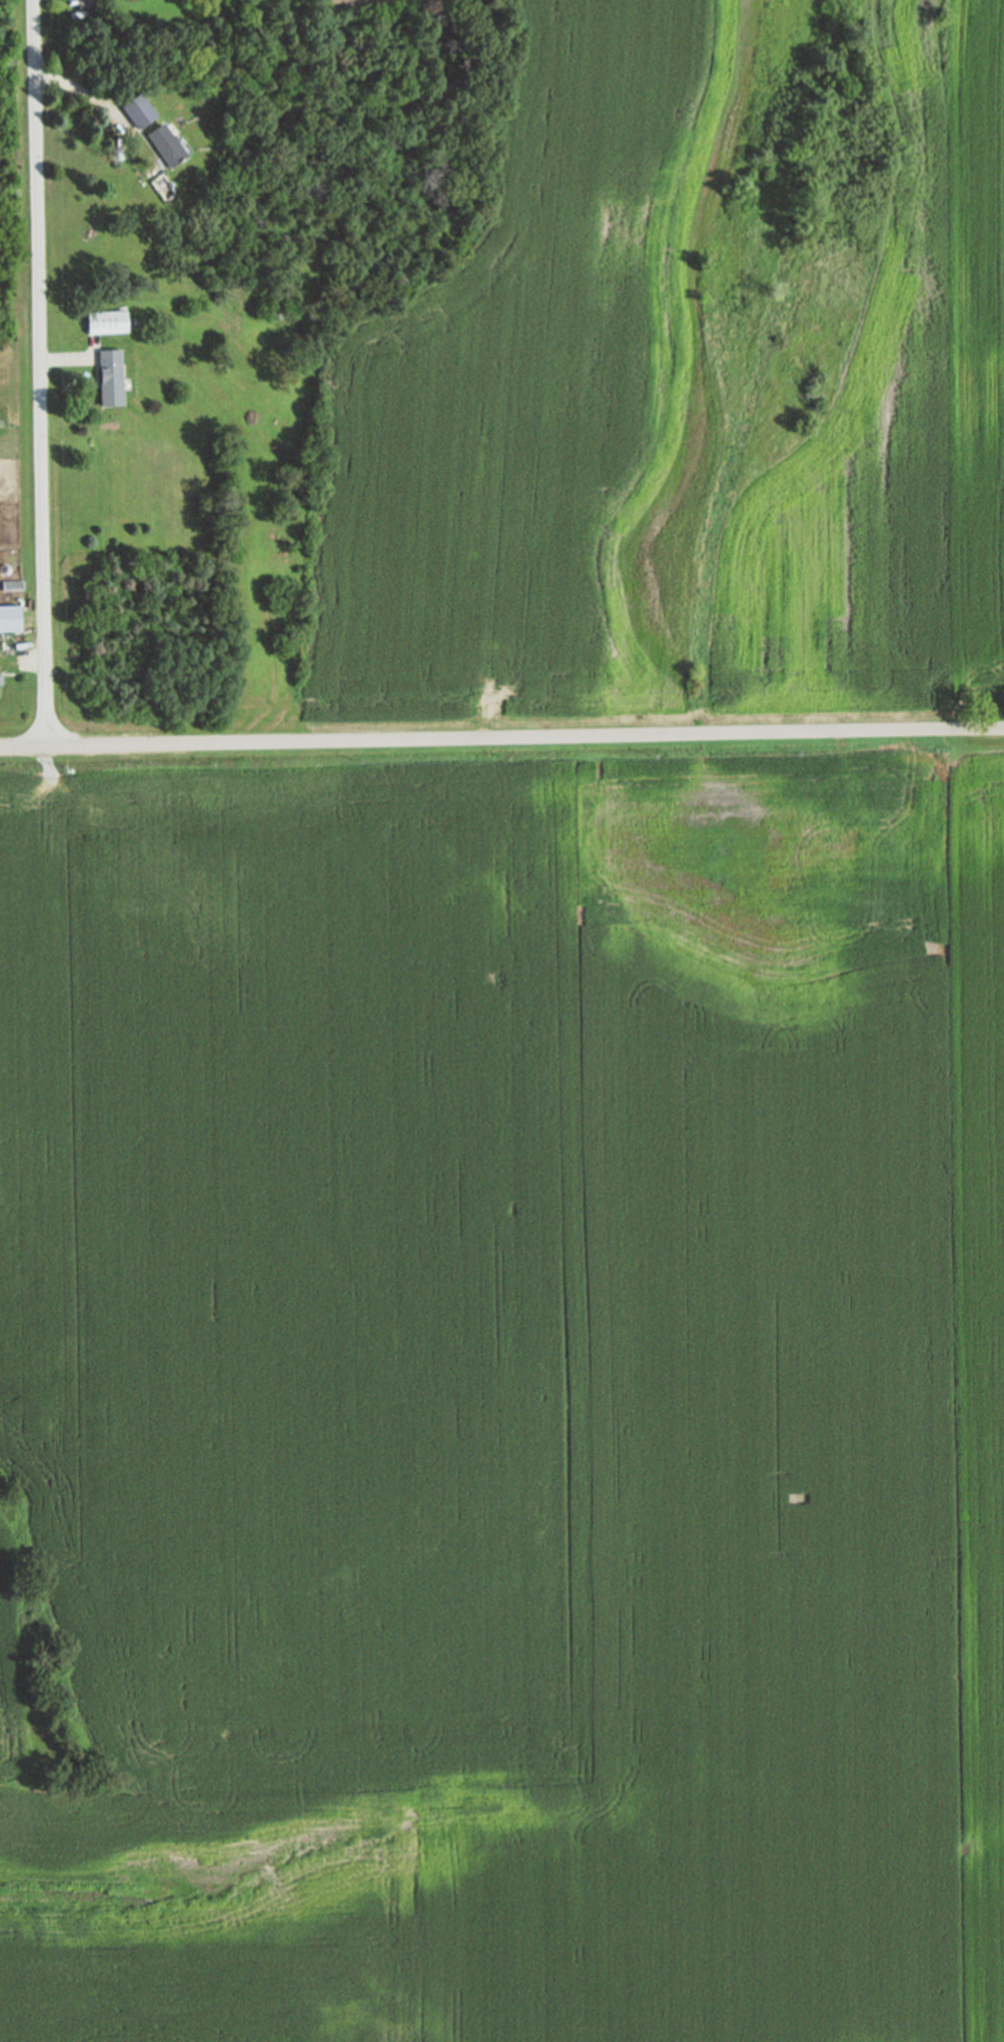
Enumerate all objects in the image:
building: (86, 4)
road: (76, 87)
building: (139, 110)
building: (165, 145)
building: (108, 321)
road: (66, 357)
road: (41, 372)
building: (109, 377)
building: (12, 583)
building: (10, 617)
building: (1, 678)
road: (501, 734)

